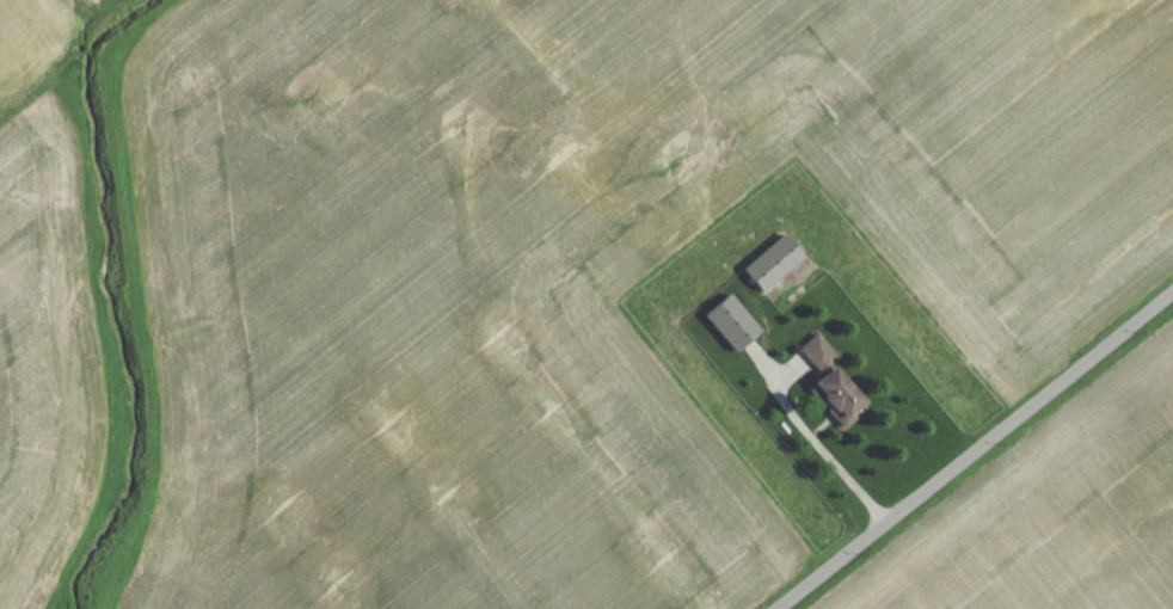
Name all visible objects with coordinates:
building: (770, 296)
building: (827, 389)
road: (978, 453)

